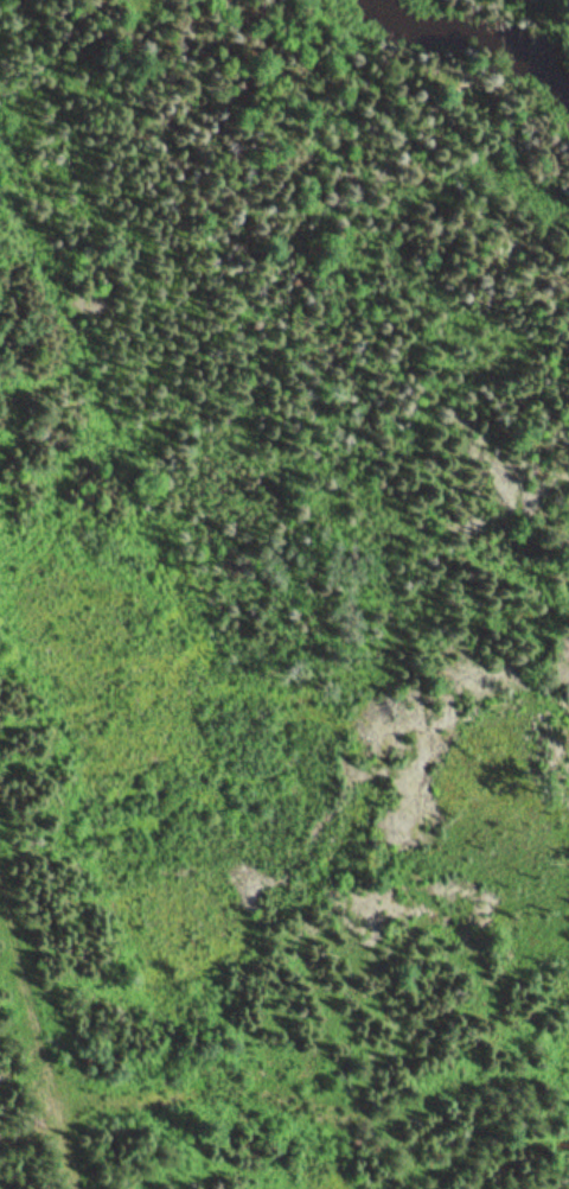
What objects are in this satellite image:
river: (509, 43)

